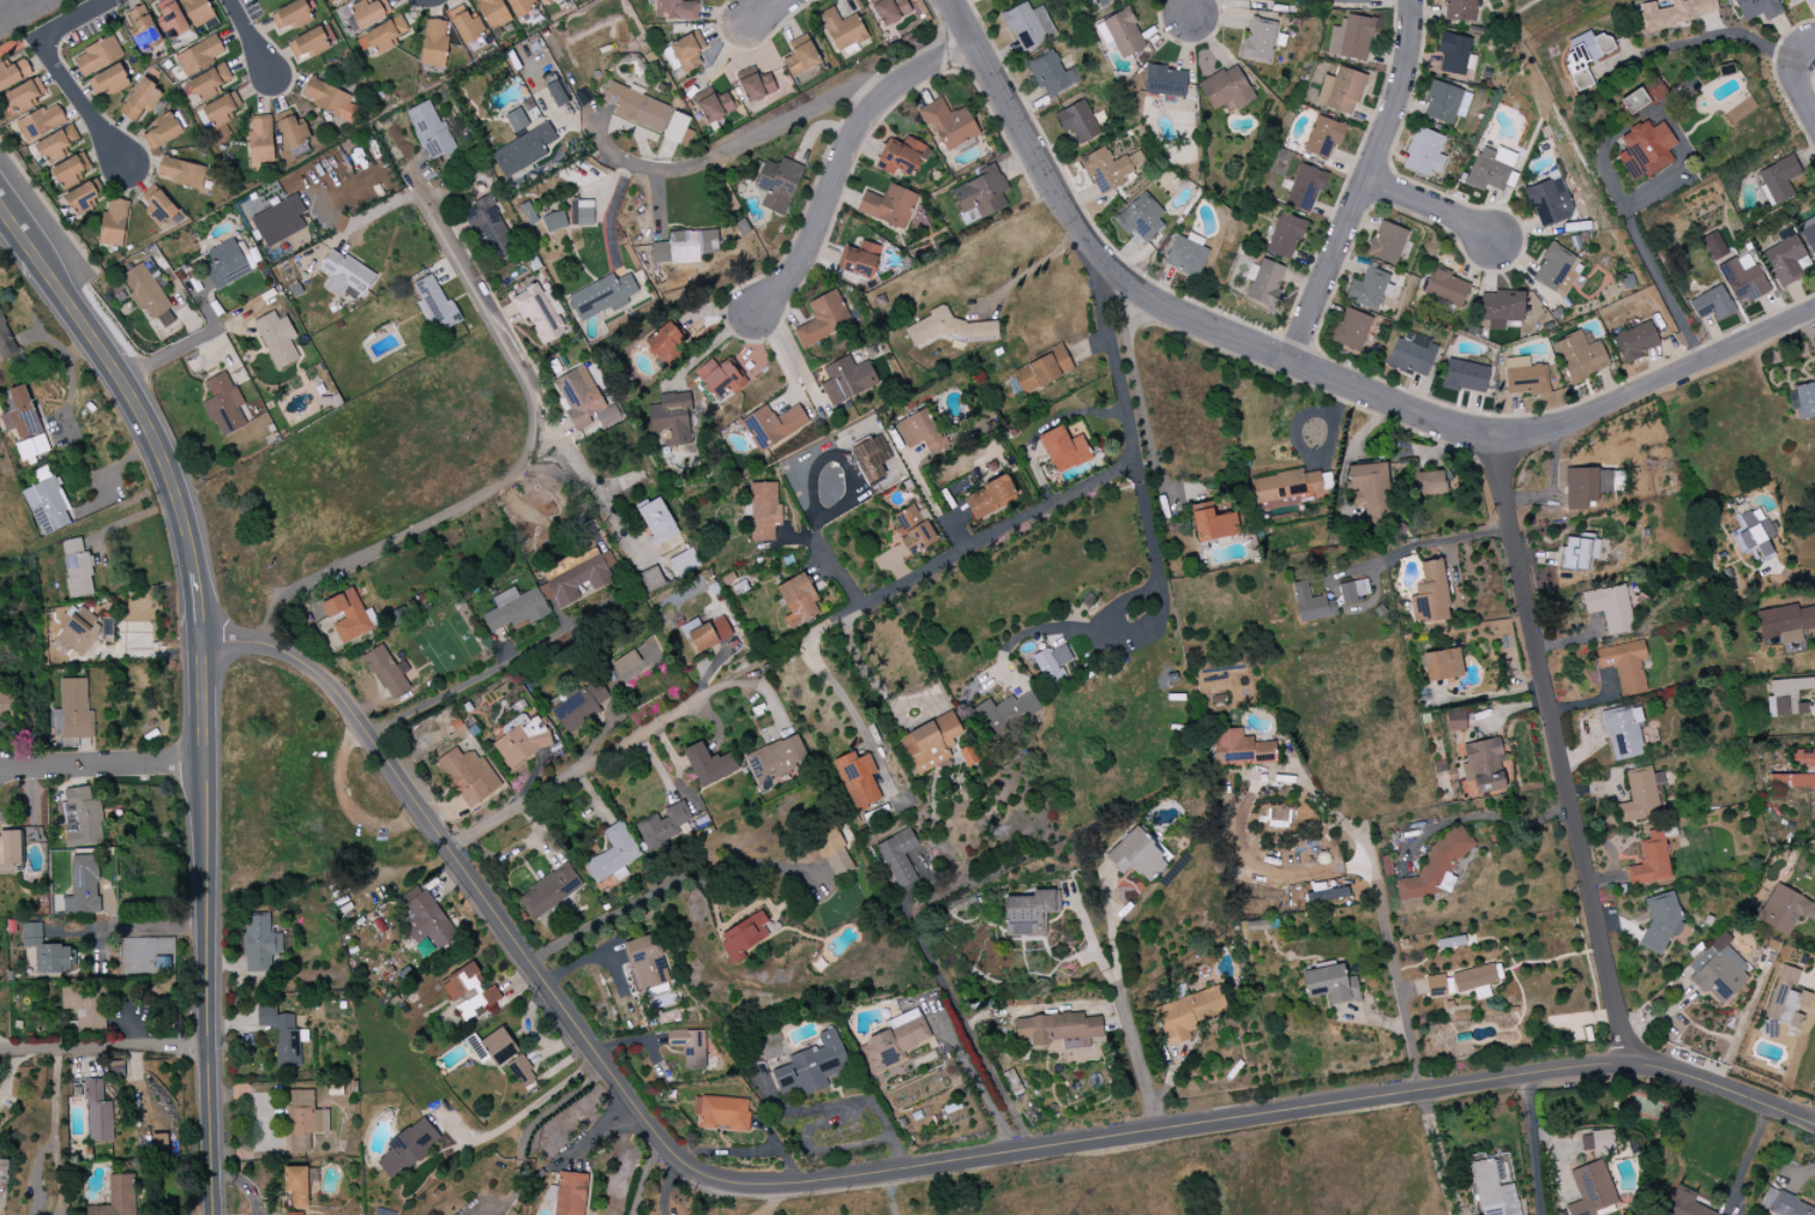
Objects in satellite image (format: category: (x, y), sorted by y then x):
building: (331, 0)
building: (1246, 0)
road: (4, 1)
building: (342, 1)
building: (1101, 1)
building: (1350, 1)
building: (1791, 1)
building: (1809, 1)
building: (545, 2)
building: (522, 6)
road: (1185, 7)
building: (1756, 8)
building: (675, 10)
building: (1459, 10)
building: (197, 11)
building: (891, 11)
building: (368, 12)
road: (763, 12)
building: (1677, 12)
building: (493, 13)
building: (292, 14)
road: (70, 19)
building: (172, 22)
building: (1028, 25)
building: (143, 28)
building: (468, 28)
building: (842, 30)
building: (1120, 34)
road: (1730, 34)
building: (381, 36)
road: (250, 37)
building: (1351, 38)
building: (1258, 41)
building: (312, 42)
building: (434, 43)
building: (687, 52)
building: (1453, 53)
building: (199, 55)
building: (97, 56)
building: (800, 56)
building: (1585, 56)
building: (14, 73)
building: (1051, 74)
building: (109, 80)
building: (1165, 82)
road: (1799, 82)
building: (209, 83)
building: (762, 85)
building: (1226, 89)
building: (1341, 90)
building: (558, 94)
building: (25, 96)
building: (582, 97)
building: (329, 98)
building: (140, 100)
road: (79, 101)
building: (1634, 101)
building: (1446, 102)
building: (719, 106)
building: (636, 107)
building: (221, 109)
building: (516, 120)
building: (1077, 121)
building: (41, 122)
building: (949, 124)
building: (675, 127)
building: (164, 130)
building: (429, 131)
building: (295, 137)
building: (1323, 137)
building: (260, 140)
road: (740, 142)
building: (55, 145)
building: (1643, 149)
building: (523, 150)
building: (1424, 152)
road: (847, 154)
building: (902, 156)
building: (1110, 168)
building: (1490, 169)
building: (70, 170)
building: (182, 173)
road: (614, 179)
building: (1778, 180)
road: (1660, 182)
road: (1365, 184)
building: (779, 185)
building: (1305, 187)
building: (981, 192)
building: (83, 198)
building: (1549, 202)
road: (48, 204)
building: (889, 205)
road: (1429, 207)
building: (161, 209)
building: (582, 212)
building: (1140, 217)
building: (280, 221)
building: (554, 222)
building: (341, 223)
building: (113, 224)
building: (491, 228)
building: (1808, 234)
building: (1285, 236)
building: (1387, 242)
building: (1714, 246)
building: (685, 247)
building: (1185, 257)
building: (1785, 258)
building: (861, 260)
building: (226, 263)
building: (1556, 270)
road: (1027, 271)
building: (344, 275)
building: (1742, 278)
building: (1263, 282)
building: (1370, 288)
building: (1446, 289)
building: (149, 291)
building: (603, 295)
building: (434, 303)
building: (1712, 303)
building: (1501, 308)
building: (539, 314)
building: (822, 320)
building: (948, 327)
building: (1350, 330)
building: (277, 339)
building: (665, 339)
building: (1635, 341)
building: (6, 342)
road: (185, 345)
building: (1412, 354)
road: (793, 356)
building: (1579, 357)
road: (1312, 368)
road: (119, 371)
building: (1041, 371)
building: (1465, 377)
building: (1525, 377)
building: (721, 378)
building: (847, 380)
building: (583, 401)
building: (1803, 402)
building: (223, 404)
building: (20, 414)
building: (672, 419)
building: (773, 426)
building: (920, 431)
building: (32, 447)
building: (1064, 450)
building: (870, 458)
road: (523, 468)
building: (1430, 482)
building: (1586, 486)
road: (596, 488)
building: (1287, 488)
building: (1370, 489)
road: (1078, 492)
building: (990, 498)
road: (930, 505)
building: (47, 506)
building: (764, 511)
building: (657, 522)
building: (1213, 523)
building: (913, 529)
building: (1756, 539)
road: (1422, 549)
building: (1579, 552)
building: (686, 559)
building: (77, 569)
road: (834, 570)
building: (577, 576)
road: (1796, 577)
building: (650, 581)
road: (1164, 590)
building: (1430, 594)
building: (798, 600)
road: (198, 605)
building: (1311, 605)
building: (1610, 608)
building: (513, 609)
building: (347, 615)
building: (1786, 624)
building: (690, 626)
building: (107, 630)
building: (78, 633)
building: (709, 633)
building: (637, 662)
building: (1052, 663)
building: (1442, 664)
building: (1624, 666)
building: (387, 673)
road: (489, 674)
road: (837, 691)
building: (4, 696)
building: (1787, 697)
building: (579, 708)
building: (73, 710)
building: (1006, 714)
building: (1455, 721)
building: (1623, 732)
building: (521, 740)
building: (931, 742)
building: (1239, 748)
road: (1559, 750)
building: (776, 758)
building: (1804, 758)
building: (708, 764)
building: (1484, 764)
road: (102, 766)
road: (573, 771)
building: (468, 776)
building: (858, 778)
building: (1791, 781)
building: (1641, 795)
road: (1478, 817)
building: (82, 818)
building: (665, 826)
building: (10, 848)
building: (834, 853)
building: (613, 854)
building: (1137, 856)
building: (901, 859)
building: (1651, 860)
building: (1435, 866)
building: (83, 886)
road: (665, 886)
building: (549, 891)
building: (1328, 895)
building: (1783, 909)
building: (1029, 913)
building: (425, 919)
road: (1383, 921)
building: (1660, 922)
road: (208, 926)
road: (134, 928)
building: (31, 934)
building: (744, 936)
road: (1112, 937)
road: (1092, 938)
building: (260, 943)
building: (1450, 943)
building: (56, 960)
building: (645, 962)
road: (578, 963)
building: (1720, 970)
building: (1476, 980)
building: (1330, 985)
building: (1436, 986)
building: (469, 992)
building: (1786, 999)
building: (83, 1006)
building: (1189, 1013)
building: (283, 1036)
road: (531, 1036)
building: (894, 1042)
building: (499, 1046)
building: (770, 1046)
road: (103, 1047)
building: (689, 1047)
road: (1137, 1057)
building: (812, 1066)
building: (116, 1069)
building: (522, 1069)
road: (13, 1071)
road: (975, 1079)
road: (56, 1093)
road: (839, 1105)
road: (533, 1108)
building: (98, 1113)
building: (722, 1113)
building: (305, 1120)
building: (1598, 1143)
building: (158, 1145)
road: (1538, 1145)
building: (408, 1148)
road: (1437, 1154)
road: (1747, 1160)
building: (2, 1163)
road: (559, 1163)
road: (889, 1169)
road: (36, 1173)
road: (647, 1173)
road: (60, 1175)
road: (668, 1180)
building: (1492, 1191)
building: (1591, 1191)
building: (567, 1193)
building: (118, 1197)
building: (1685, 1203)
building: (1790, 1207)

